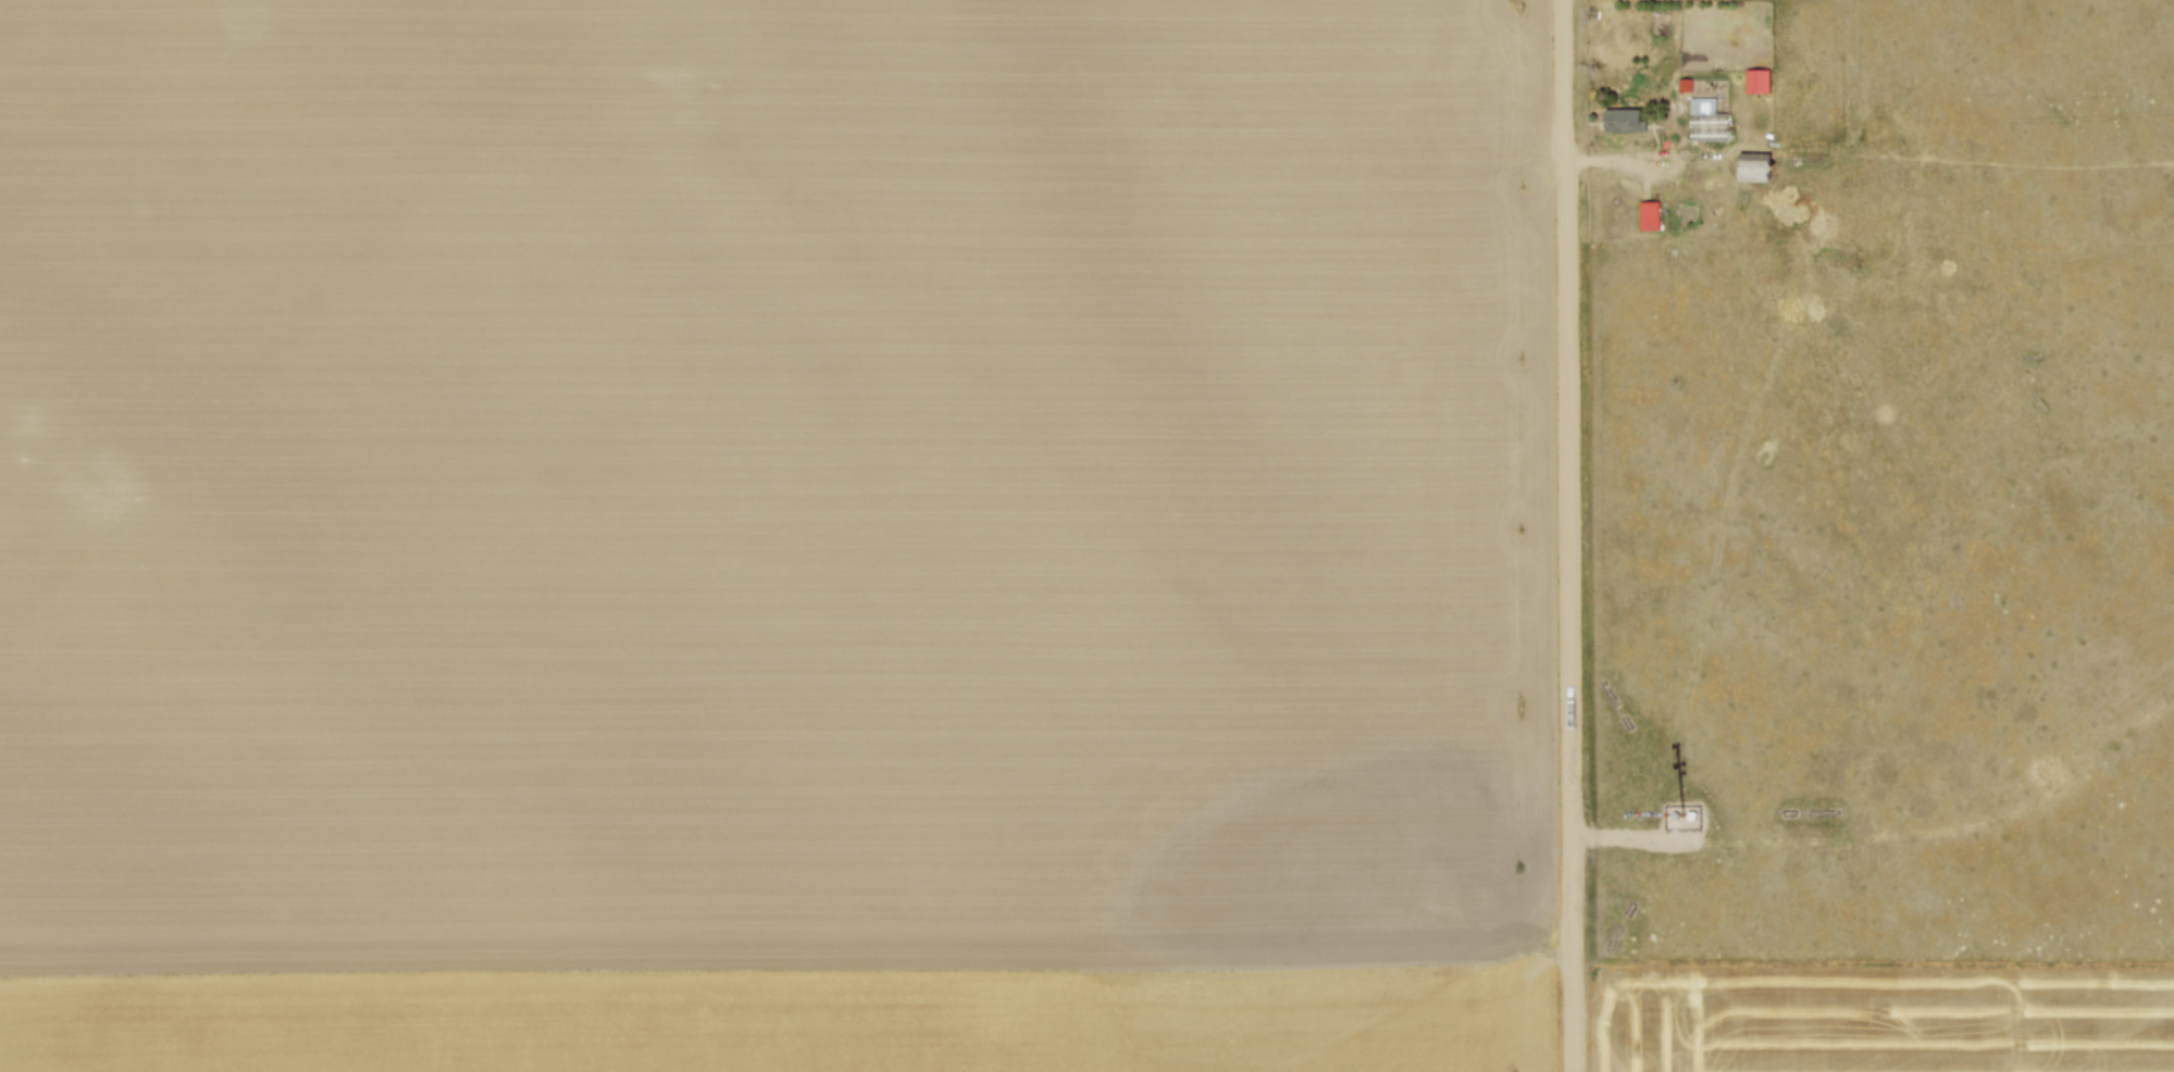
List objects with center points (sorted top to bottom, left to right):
building: (1756, 83)
building: (1624, 120)
building: (1707, 121)
road: (1623, 164)
building: (1752, 167)
building: (1649, 215)
crop: (774, 536)
road: (1569, 536)
crop: (1887, 1020)

